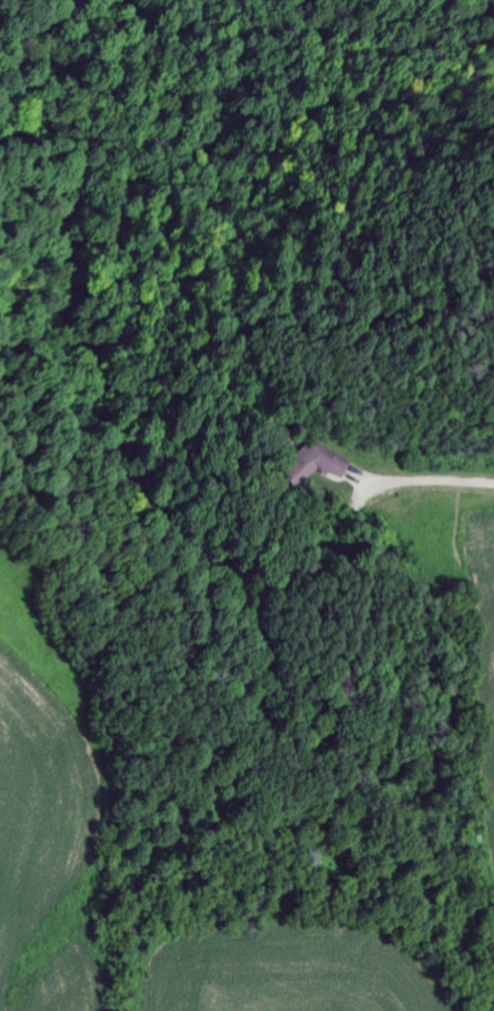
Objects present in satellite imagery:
building: (310, 462)
road: (432, 478)

